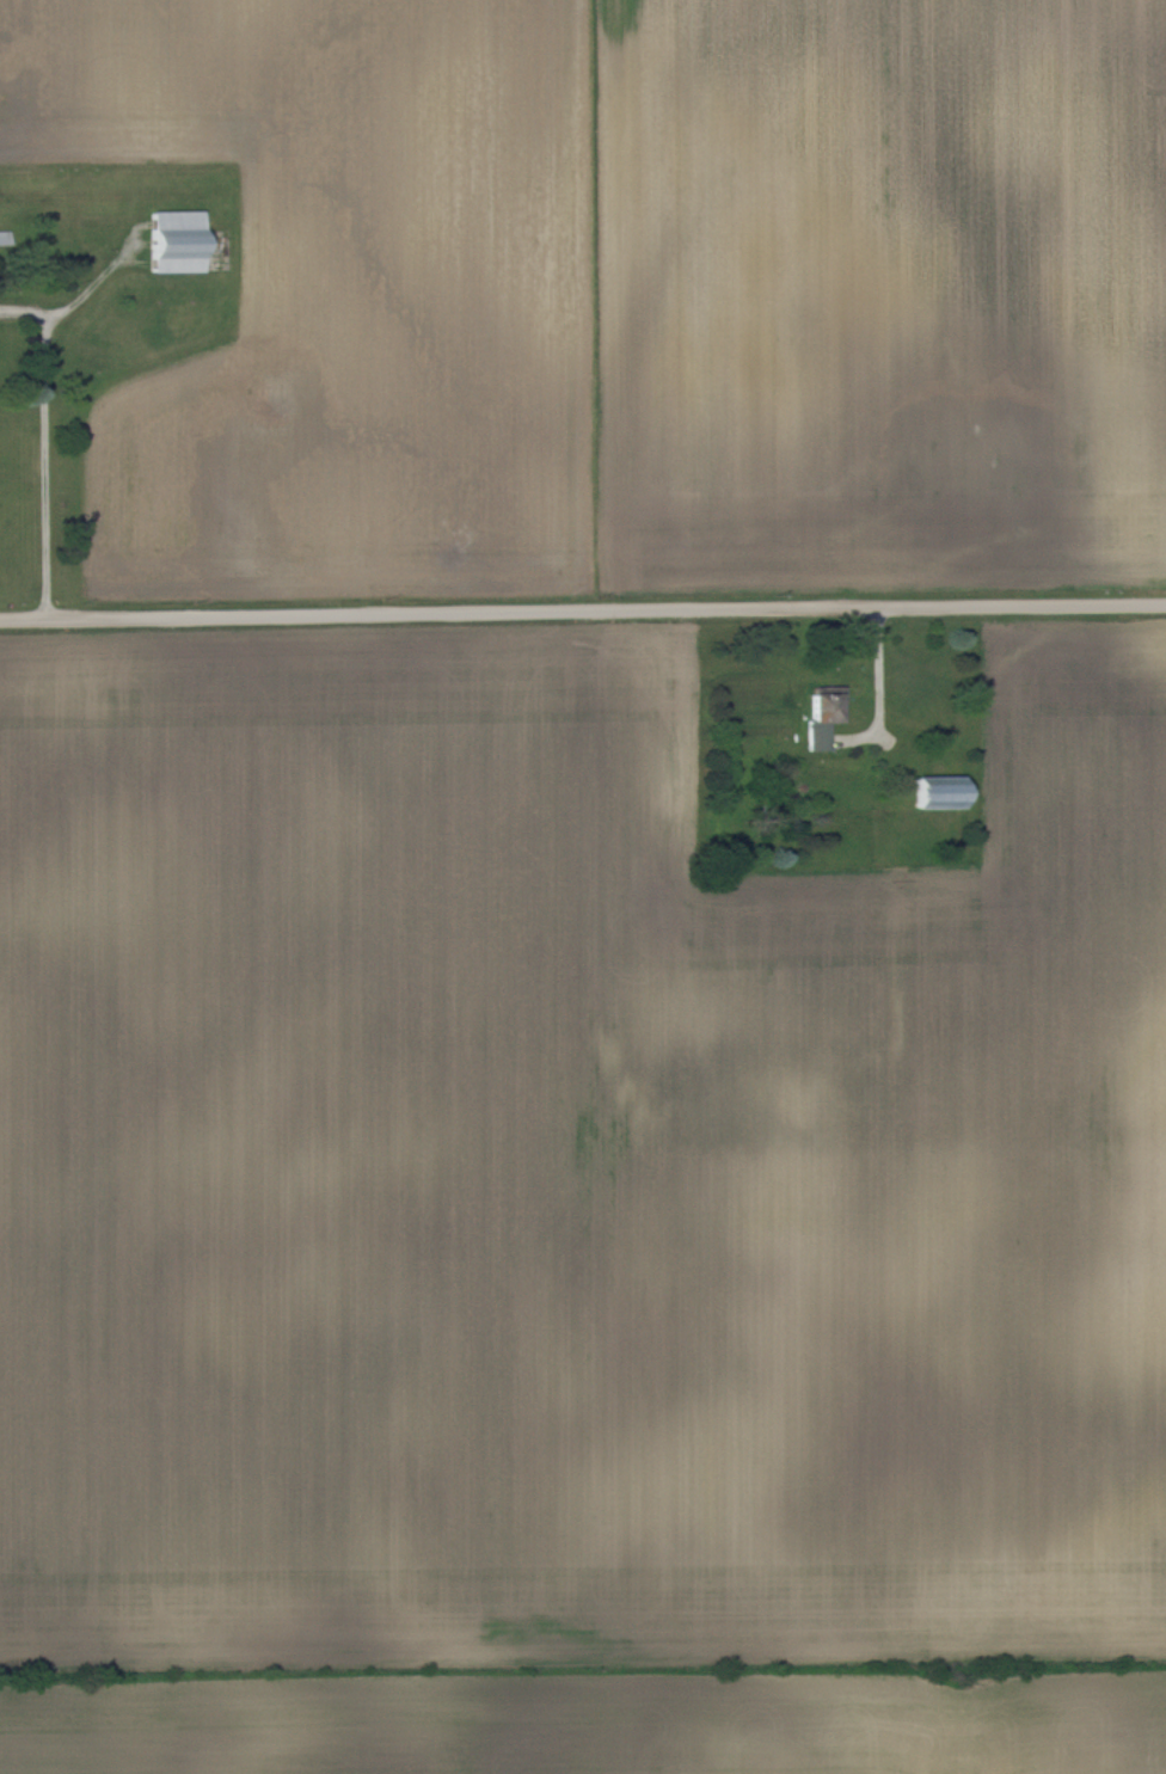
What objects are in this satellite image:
building: (180, 241)
road: (43, 468)
road: (582, 609)
building: (824, 719)
building: (943, 791)

